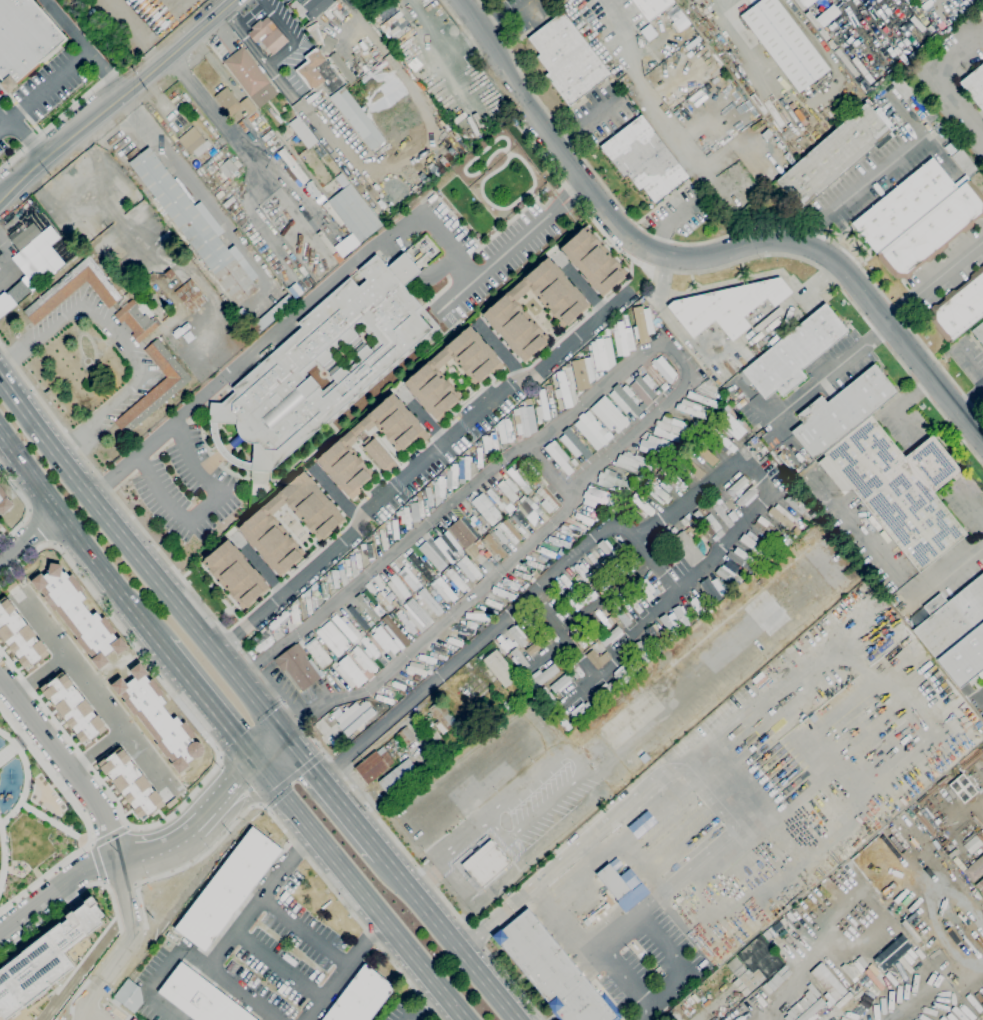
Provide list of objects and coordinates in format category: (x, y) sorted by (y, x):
building: (693, 0)
building: (695, 0)
building: (806, 2)
building: (315, 6)
building: (651, 7)
road: (249, 12)
road: (457, 24)
road: (67, 25)
building: (395, 26)
road: (140, 30)
building: (267, 35)
building: (23, 37)
road: (183, 43)
building: (785, 43)
building: (328, 44)
road: (958, 51)
building: (567, 59)
road: (273, 61)
building: (342, 68)
road: (107, 71)
building: (318, 72)
building: (250, 77)
road: (49, 84)
road: (639, 85)
building: (902, 86)
building: (975, 86)
parking lot: (1, 92)
parking lot: (41, 92)
building: (233, 102)
road: (958, 102)
road: (5, 114)
building: (930, 117)
building: (357, 118)
road: (55, 123)
road: (5, 124)
building: (939, 128)
building: (302, 132)
building: (766, 134)
road: (28, 138)
building: (220, 140)
road: (65, 141)
building: (195, 144)
building: (835, 155)
building: (644, 159)
road: (251, 161)
building: (964, 162)
building: (293, 166)
road: (176, 167)
building: (227, 168)
road: (551, 168)
building: (980, 179)
road: (864, 186)
building: (220, 194)
building: (904, 205)
building: (355, 213)
building: (333, 214)
building: (197, 228)
building: (933, 231)
building: (23, 235)
road: (713, 240)
building: (326, 242)
road: (512, 247)
road: (700, 256)
building: (592, 262)
road: (949, 266)
road: (824, 272)
building: (169, 274)
road: (415, 275)
road: (584, 288)
building: (73, 289)
building: (19, 291)
building: (191, 295)
road: (900, 306)
building: (726, 307)
building: (959, 308)
building: (566, 309)
building: (138, 316)
building: (263, 317)
road: (284, 321)
building: (642, 324)
building: (979, 332)
road: (881, 336)
building: (623, 340)
road: (121, 343)
building: (603, 353)
building: (794, 353)
road: (501, 356)
road: (972, 361)
building: (287, 364)
building: (478, 367)
building: (664, 369)
building: (582, 373)
road: (820, 385)
building: (155, 387)
building: (548, 387)
building: (644, 389)
building: (563, 390)
building: (702, 399)
building: (626, 400)
building: (527, 401)
road: (971, 401)
building: (542, 407)
building: (692, 409)
building: (841, 411)
building: (608, 414)
building: (521, 421)
building: (394, 422)
road: (770, 424)
building: (671, 425)
building: (732, 426)
building: (507, 430)
building: (592, 431)
road: (629, 432)
building: (494, 442)
building: (724, 444)
building: (574, 445)
building: (655, 446)
building: (380, 455)
building: (706, 455)
building: (559, 456)
building: (479, 458)
building: (630, 462)
building: (345, 464)
road: (417, 466)
building: (467, 467)
building: (693, 468)
building: (453, 476)
building: (520, 479)
building: (611, 480)
building: (535, 481)
building: (677, 483)
building: (737, 486)
building: (439, 487)
building: (898, 489)
building: (509, 490)
road: (468, 492)
building: (656, 492)
building: (429, 496)
building: (747, 496)
building: (495, 497)
building: (598, 498)
building: (534, 499)
building: (546, 501)
building: (5, 502)
building: (795, 503)
road: (25, 505)
building: (641, 506)
road: (205, 507)
building: (486, 508)
building: (532, 508)
road: (28, 509)
building: (417, 510)
building: (722, 510)
building: (781, 516)
building: (407, 518)
building: (583, 518)
building: (519, 519)
building: (684, 521)
building: (707, 522)
building: (260, 523)
building: (0, 525)
road: (41, 526)
building: (766, 527)
building: (395, 529)
building: (569, 529)
building: (510, 532)
road: (734, 533)
building: (462, 534)
building: (663, 535)
building: (718, 535)
building: (500, 536)
road: (79, 537)
road: (28, 538)
building: (383, 539)
building: (750, 541)
building: (559, 542)
road: (52, 543)
building: (492, 547)
building: (445, 548)
building: (607, 548)
building: (684, 548)
building: (369, 551)
building: (429, 552)
building: (547, 552)
building: (633, 557)
road: (646, 557)
building: (739, 557)
road: (143, 559)
building: (358, 561)
building: (594, 562)
building: (549, 563)
building: (535, 564)
building: (420, 565)
road: (892, 565)
building: (347, 567)
building: (468, 568)
building: (235, 573)
building: (726, 574)
building: (521, 575)
building: (334, 578)
building: (409, 578)
building: (456, 580)
building: (532, 580)
building: (567, 582)
building: (511, 584)
building: (525, 586)
building: (397, 587)
building: (645, 589)
building: (712, 589)
building: (323, 590)
building: (443, 590)
road: (605, 596)
building: (383, 601)
building: (430, 602)
building: (493, 603)
road: (460, 604)
building: (367, 607)
building: (636, 607)
building: (418, 612)
building: (296, 613)
building: (478, 616)
building: (622, 616)
building: (681, 616)
building: (359, 617)
building: (951, 618)
building: (605, 619)
building: (407, 623)
building: (667, 624)
building: (347, 627)
building: (464, 629)
building: (595, 629)
building: (396, 631)
building: (551, 633)
building: (362, 634)
building: (368, 634)
building: (654, 634)
building: (517, 635)
building: (20, 636)
road: (564, 636)
building: (611, 636)
building: (385, 640)
building: (579, 641)
building: (328, 642)
building: (454, 642)
building: (503, 642)
building: (264, 643)
building: (533, 648)
building: (371, 649)
building: (439, 649)
road: (466, 651)
building: (641, 651)
building: (318, 652)
building: (351, 652)
building: (597, 658)
building: (965, 658)
building: (519, 659)
building: (363, 660)
building: (298, 666)
building: (415, 668)
building: (500, 668)
building: (104, 669)
building: (576, 669)
railway: (241, 671)
building: (351, 671)
building: (620, 672)
road: (40, 673)
building: (542, 676)
building: (416, 677)
road: (267, 683)
building: (561, 683)
building: (398, 685)
building: (604, 690)
road: (96, 692)
road: (980, 694)
building: (383, 699)
road: (207, 702)
building: (507, 706)
building: (73, 708)
building: (579, 711)
building: (441, 716)
building: (982, 716)
building: (355, 717)
building: (434, 733)
building: (405, 735)
building: (471, 735)
road: (643, 735)
building: (458, 740)
road: (11, 748)
road: (99, 749)
road: (220, 757)
road: (67, 760)
building: (374, 764)
road: (685, 769)
road: (538, 772)
road: (25, 776)
road: (290, 777)
building: (400, 779)
road: (239, 780)
building: (130, 783)
road: (334, 796)
road: (209, 806)
road: (535, 815)
park: (34, 816)
road: (83, 818)
road: (54, 822)
building: (641, 824)
road: (126, 825)
road: (90, 843)
road: (91, 844)
road: (294, 852)
road: (448, 852)
road: (2, 855)
building: (486, 861)
building: (974, 868)
building: (613, 881)
road: (102, 882)
building: (979, 886)
building: (228, 888)
road: (76, 891)
road: (356, 891)
road: (58, 893)
road: (526, 894)
road: (346, 904)
road: (138, 923)
road: (612, 930)
road: (304, 931)
road: (369, 937)
road: (449, 937)
road: (214, 958)
building: (43, 962)
building: (757, 964)
road: (279, 965)
building: (736, 966)
building: (552, 971)
building: (781, 977)
building: (825, 983)
road: (332, 986)
road: (245, 993)
building: (130, 995)
road: (661, 995)
building: (201, 997)
building: (361, 997)
road: (85, 998)
road: (782, 998)
road: (418, 1002)
building: (800, 1006)
building: (811, 1009)
road: (155, 1011)

